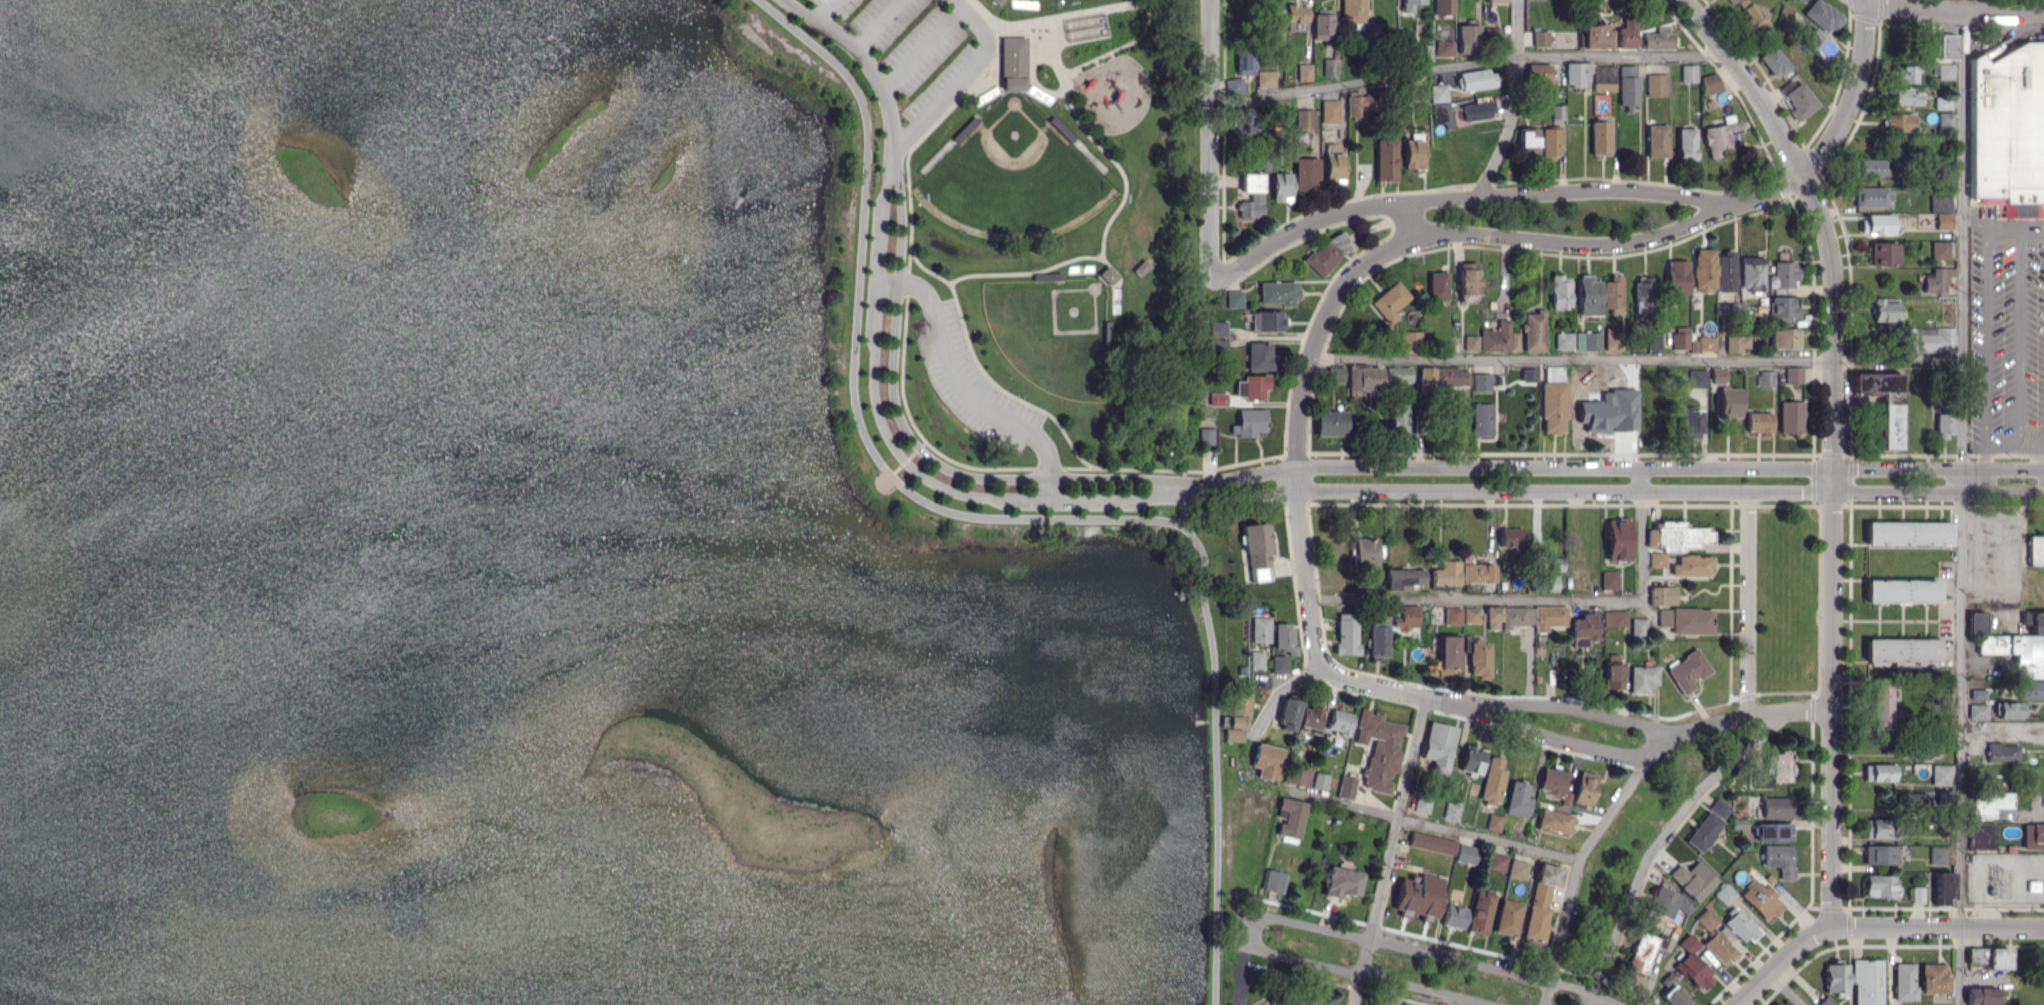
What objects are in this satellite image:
building: (996, 0)
building: (1800, 0)
building: (1494, 1)
building: (1732, 1)
road: (1862, 1)
building: (1409, 5)
building: (1443, 7)
road: (1951, 7)
road: (825, 10)
building: (1353, 11)
building: (1822, 15)
building: (1296, 17)
building: (1753, 19)
road: (874, 23)
building: (1322, 23)
building: (1492, 32)
building: (1597, 35)
building: (1626, 35)
building: (1541, 37)
building: (1468, 38)
building: (1658, 38)
building: (1818, 44)
building: (1946, 46)
road: (922, 47)
building: (1444, 48)
parking lot: (910, 51)
building: (1424, 52)
building: (1244, 61)
building: (1773, 61)
building: (1012, 63)
road: (1468, 64)
building: (1330, 67)
building: (1945, 70)
building: (1304, 72)
building: (1688, 72)
building: (1538, 73)
building: (1905, 73)
building: (1577, 74)
road: (960, 75)
building: (1265, 78)
building: (1604, 78)
building: (1477, 79)
road: (1749, 81)
building: (1710, 83)
building: (1656, 84)
building: (1234, 85)
building: (1628, 86)
building: (1438, 92)
road: (1853, 96)
building: (1904, 96)
road: (1515, 101)
building: (1799, 101)
building: (1942, 102)
building: (1358, 105)
building: (1477, 110)
building: (1330, 111)
building: (1304, 119)
building: (1247, 120)
building: (1946, 121)
building: (1898, 122)
building: (2007, 130)
building: (1600, 137)
building: (1719, 138)
road: (1209, 139)
building: (1529, 141)
building: (1656, 141)
building: (1551, 143)
building: (1686, 143)
building: (1414, 151)
building: (1386, 160)
building: (1865, 167)
building: (1333, 168)
building: (1306, 173)
park: (1014, 174)
building: (1281, 186)
road: (1762, 194)
building: (1251, 195)
building: (1872, 196)
building: (1939, 200)
road: (1718, 208)
building: (1943, 220)
road: (1408, 221)
road: (1974, 221)
building: (1877, 223)
road: (1308, 225)
road: (2015, 227)
building: (1940, 249)
building: (1328, 252)
building: (1883, 253)
building: (1704, 269)
building: (1725, 271)
park: (1027, 272)
building: (1752, 272)
building: (1784, 275)
building: (1677, 277)
building: (1468, 278)
building: (1936, 280)
building: (1438, 285)
building: (1278, 292)
building: (1560, 292)
building: (1612, 294)
building: (1643, 294)
building: (1589, 295)
building: (1234, 298)
building: (1390, 301)
building: (1783, 307)
building: (1884, 309)
building: (1266, 320)
building: (1534, 330)
park: (1052, 332)
road: (2019, 332)
road: (1319, 333)
building: (1680, 337)
building: (1500, 338)
building: (1610, 338)
building: (1782, 338)
building: (1409, 339)
building: (1931, 339)
building: (1564, 341)
building: (1587, 341)
building: (1653, 341)
building: (1471, 342)
building: (1737, 342)
building: (1706, 343)
road: (1985, 353)
road: (872, 354)
building: (1259, 356)
road: (1898, 358)
road: (1571, 359)
building: (1337, 373)
building: (1529, 374)
building: (1398, 375)
building: (1719, 375)
building: (1793, 375)
building: (1453, 376)
building: (1365, 378)
building: (1697, 378)
building: (1765, 378)
building: (1426, 380)
building: (1481, 382)
building: (1251, 386)
road: (963, 389)
building: (1217, 398)
building: (1553, 401)
building: (1729, 402)
building: (1883, 403)
building: (1609, 411)
building: (1399, 416)
building: (1790, 416)
building: (1482, 420)
building: (1690, 421)
building: (1248, 422)
building: (1758, 422)
building: (1331, 423)
building: (1944, 424)
building: (1208, 436)
road: (2013, 438)
road: (2043, 458)
road: (1613, 481)
road: (1962, 502)
road: (1184, 510)
road: (1011, 518)
building: (1908, 532)
building: (1676, 536)
building: (1510, 537)
building: (1617, 539)
road: (1642, 540)
road: (1831, 546)
building: (2035, 550)
building: (1257, 551)
building: (1365, 556)
building: (1657, 559)
building: (1692, 565)
road: (1306, 573)
building: (1446, 573)
building: (1478, 573)
building: (1403, 579)
building: (1609, 580)
building: (1548, 583)
building: (1902, 591)
building: (1662, 595)
road: (1748, 597)
road: (1476, 599)
building: (1452, 615)
building: (1471, 615)
building: (1507, 616)
building: (1406, 617)
building: (1549, 617)
building: (1664, 617)
building: (1615, 618)
building: (1692, 620)
building: (2034, 621)
building: (1976, 622)
building: (1638, 626)
building: (1260, 629)
building: (1582, 629)
building: (1347, 633)
building: (1284, 637)
building: (1377, 638)
building: (1902, 650)
building: (1447, 652)
building: (2017, 652)
building: (1478, 656)
building: (1257, 659)
building: (1279, 663)
building: (1687, 671)
building: (1613, 672)
building: (1642, 678)
road: (1282, 689)
building: (2030, 689)
building: (1978, 694)
building: (1882, 707)
road: (1573, 709)
building: (2009, 710)
building: (1977, 711)
building: (1288, 714)
building: (1238, 716)
building: (1310, 718)
building: (1339, 722)
road: (2002, 731)
road: (1577, 741)
building: (1439, 746)
building: (1379, 748)
building: (2002, 751)
building: (1266, 760)
building: (1472, 760)
building: (1774, 770)
building: (1878, 772)
building: (1941, 774)
building: (1297, 775)
building: (1320, 780)
building: (1493, 781)
building: (1555, 783)
building: (1347, 786)
building: (1584, 788)
building: (1944, 798)
building: (1518, 799)
building: (1914, 799)
building: (1987, 803)
building: (1421, 804)
building: (1719, 807)
building: (1777, 807)
building: (1451, 810)
building: (1290, 818)
building: (1494, 821)
building: (1555, 821)
road: (1429, 823)
building: (1878, 828)
building: (1704, 831)
building: (1773, 831)
building: (1980, 835)
building: (2033, 836)
road: (1660, 840)
building: (1432, 842)
road: (1390, 852)
building: (1466, 854)
building: (1880, 854)
building: (1937, 855)
building: (1779, 859)
building: (1497, 861)
building: (1518, 869)
road: (1575, 870)
building: (1693, 879)
building: (1273, 880)
building: (1342, 882)
building: (1880, 885)
building: (1943, 887)
building: (1724, 893)
building: (1917, 894)
building: (1419, 895)
building: (1760, 899)
building: (1540, 900)
building: (1668, 903)
building: (1480, 911)
building: (1454, 916)
building: (1508, 917)
road: (1280, 918)
building: (1706, 919)
road: (1937, 924)
building: (1741, 925)
building: (1719, 947)
building: (1641, 952)
building: (1989, 957)
road: (1782, 961)
building: (1693, 964)
building: (1933, 978)
building: (1667, 979)
building: (1836, 979)
building: (1903, 981)
building: (1867, 982)
road: (1786, 989)
building: (1674, 996)
building: (1981, 996)
building: (1826, 1001)
building: (1783, 1002)

